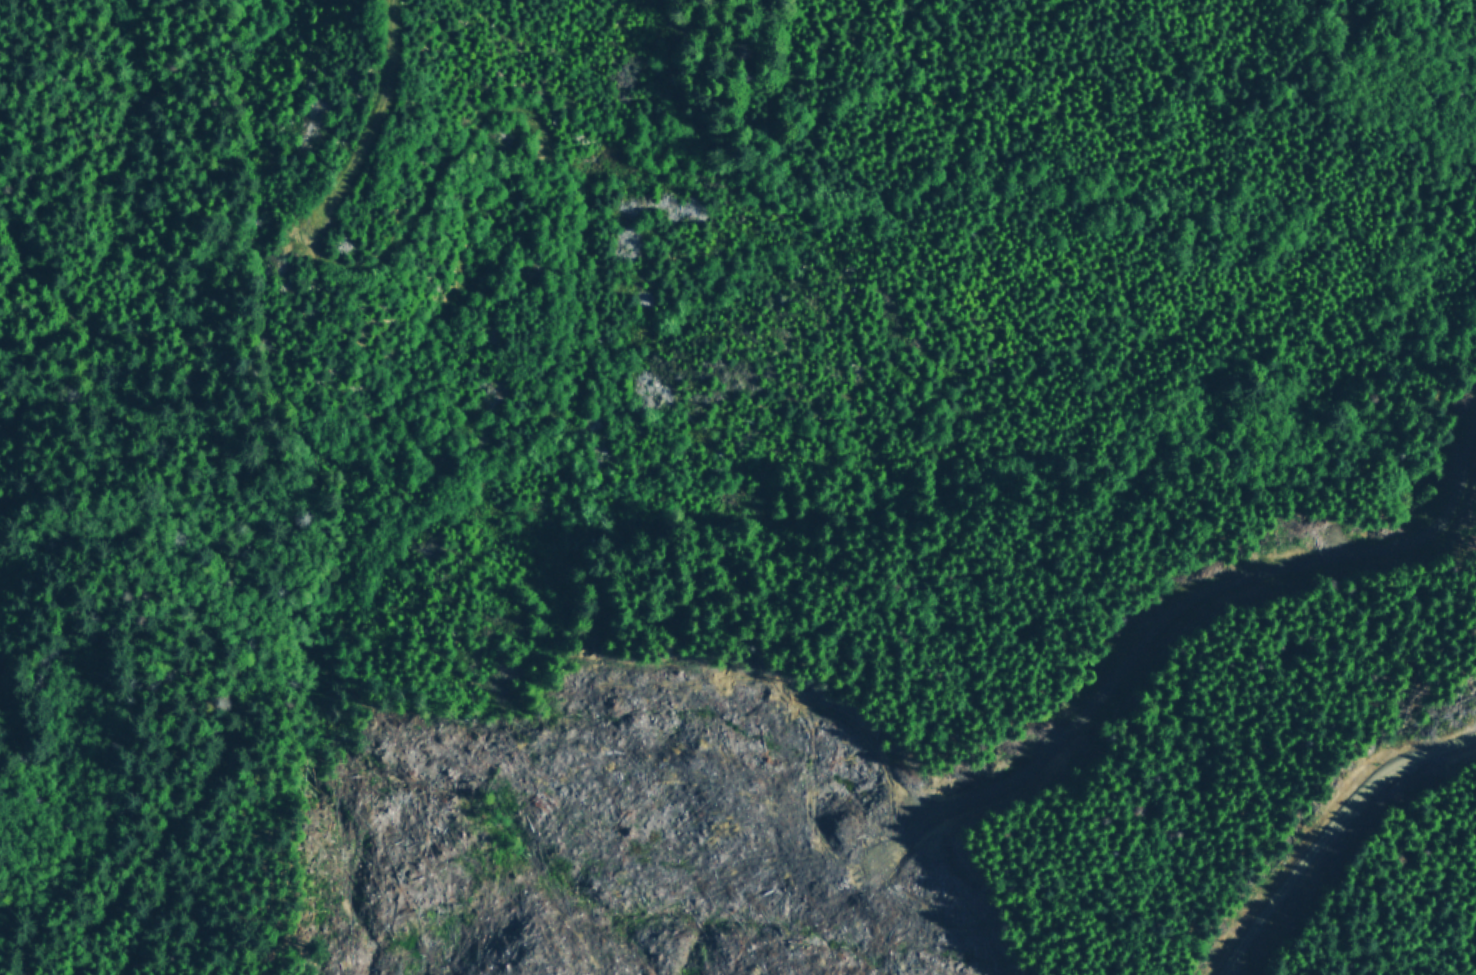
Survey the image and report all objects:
road: (552, 378)
road: (1158, 639)

